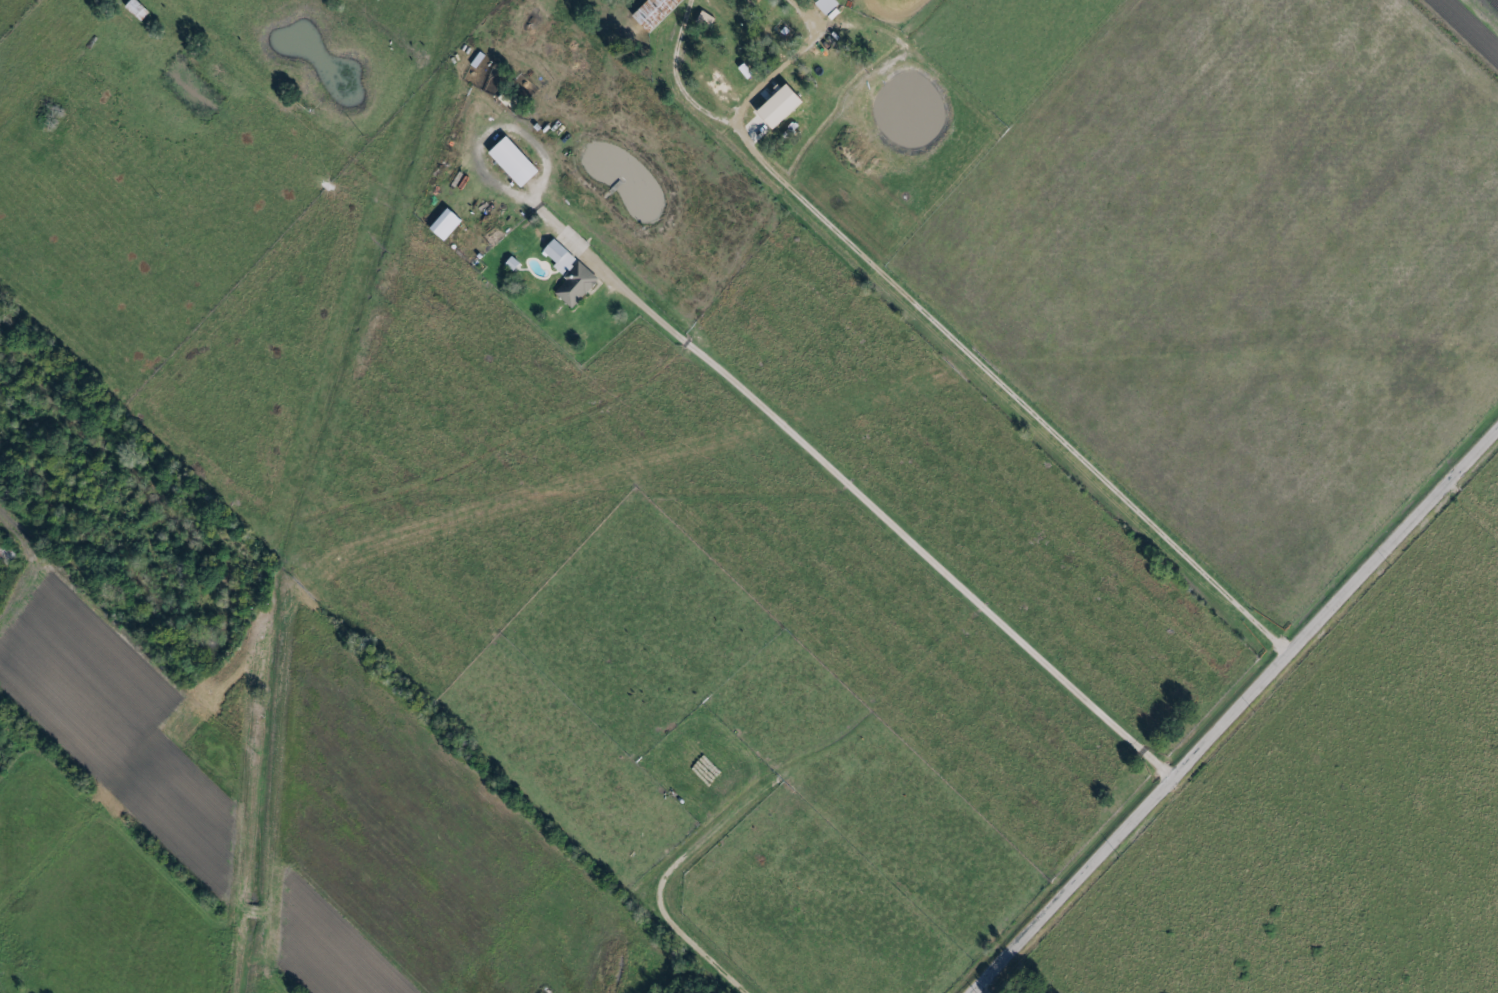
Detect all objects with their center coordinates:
road: (788, 3)
building: (828, 5)
building: (138, 9)
building: (658, 12)
road: (675, 76)
building: (783, 106)
building: (517, 162)
building: (447, 224)
building: (571, 274)
road: (947, 341)
road: (1472, 506)
road: (879, 514)
road: (1236, 713)
building: (1023, 992)

